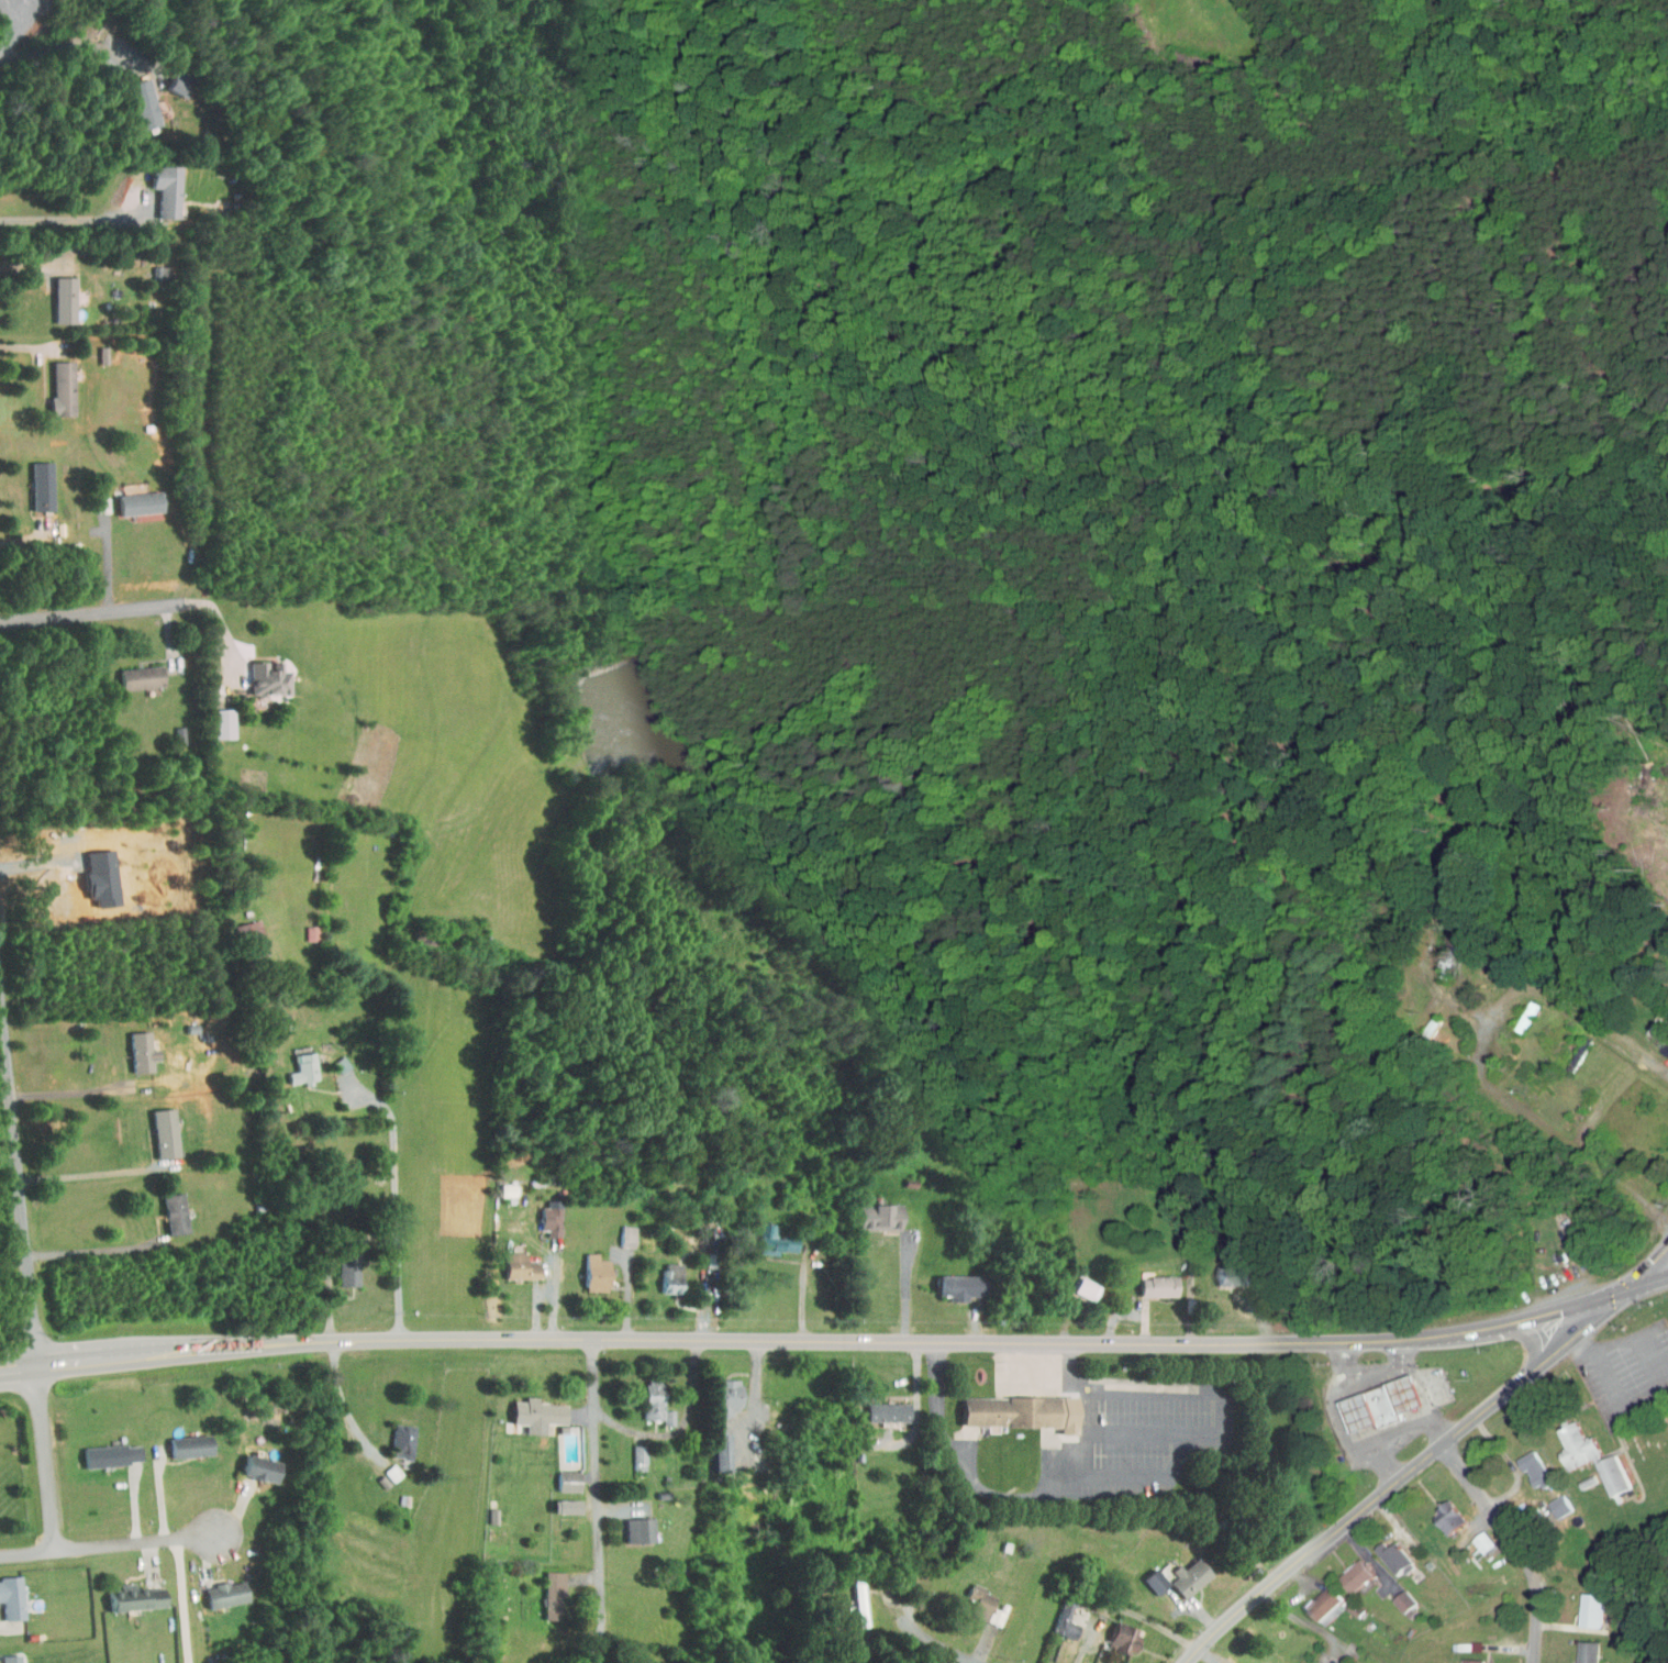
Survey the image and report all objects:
road: (13, 24)
road: (66, 42)
building: (135, 97)
building: (158, 182)
road: (69, 218)
building: (153, 265)
road: (26, 266)
building: (56, 292)
road: (26, 340)
building: (54, 381)
building: (34, 479)
building: (132, 496)
road: (30, 539)
road: (97, 555)
road: (99, 616)
building: (133, 670)
building: (260, 672)
building: (215, 717)
building: (302, 927)
building: (244, 931)
road: (1434, 988)
building: (1511, 1019)
building: (1655, 1032)
building: (134, 1046)
road: (1479, 1056)
building: (332, 1057)
building: (294, 1062)
road: (73, 1091)
building: (157, 1127)
road: (89, 1174)
road: (19, 1183)
building: (500, 1187)
road: (398, 1200)
building: (167, 1207)
building: (871, 1210)
building: (543, 1211)
building: (620, 1230)
building: (767, 1234)
road: (98, 1249)
building: (513, 1260)
building: (341, 1264)
building: (588, 1266)
road: (1648, 1266)
building: (1222, 1270)
building: (664, 1272)
building: (1150, 1279)
building: (953, 1280)
building: (1078, 1282)
road: (1648, 1282)
traffic signals: (1630, 1288)
road: (816, 1338)
road: (1642, 1348)
road: (1368, 1373)
road: (1604, 1374)
road: (1424, 1384)
building: (720, 1389)
building: (646, 1394)
building: (1375, 1398)
road: (345, 1400)
building: (879, 1406)
building: (530, 1408)
building: (660, 1410)
building: (1015, 1411)
road: (1334, 1423)
building: (394, 1434)
road: (1398, 1438)
building: (182, 1440)
building: (713, 1445)
building: (103, 1449)
building: (631, 1451)
road: (47, 1457)
building: (1601, 1460)
building: (253, 1462)
building: (1524, 1464)
building: (383, 1466)
road: (1405, 1472)
building: (560, 1475)
road: (1153, 1475)
building: (559, 1500)
building: (1550, 1500)
road: (601, 1503)
building: (1439, 1512)
building: (631, 1525)
building: (1475, 1537)
road: (110, 1544)
road: (1513, 1544)
building: (1383, 1552)
building: (1347, 1570)
building: (1182, 1571)
building: (1148, 1575)
building: (218, 1588)
building: (544, 1589)
building: (127, 1592)
building: (7, 1593)
building: (974, 1596)
building: (852, 1597)
building: (1314, 1597)
building: (1394, 1597)
road: (185, 1600)
building: (1581, 1605)
building: (988, 1610)
building: (1057, 1616)
road: (1303, 1620)
building: (1116, 1633)
road: (939, 1644)
building: (1055, 1647)
building: (1578, 1649)
building: (8, 1656)
building: (1463, 1659)
building: (1223, 1662)
building: (1343, 1662)

